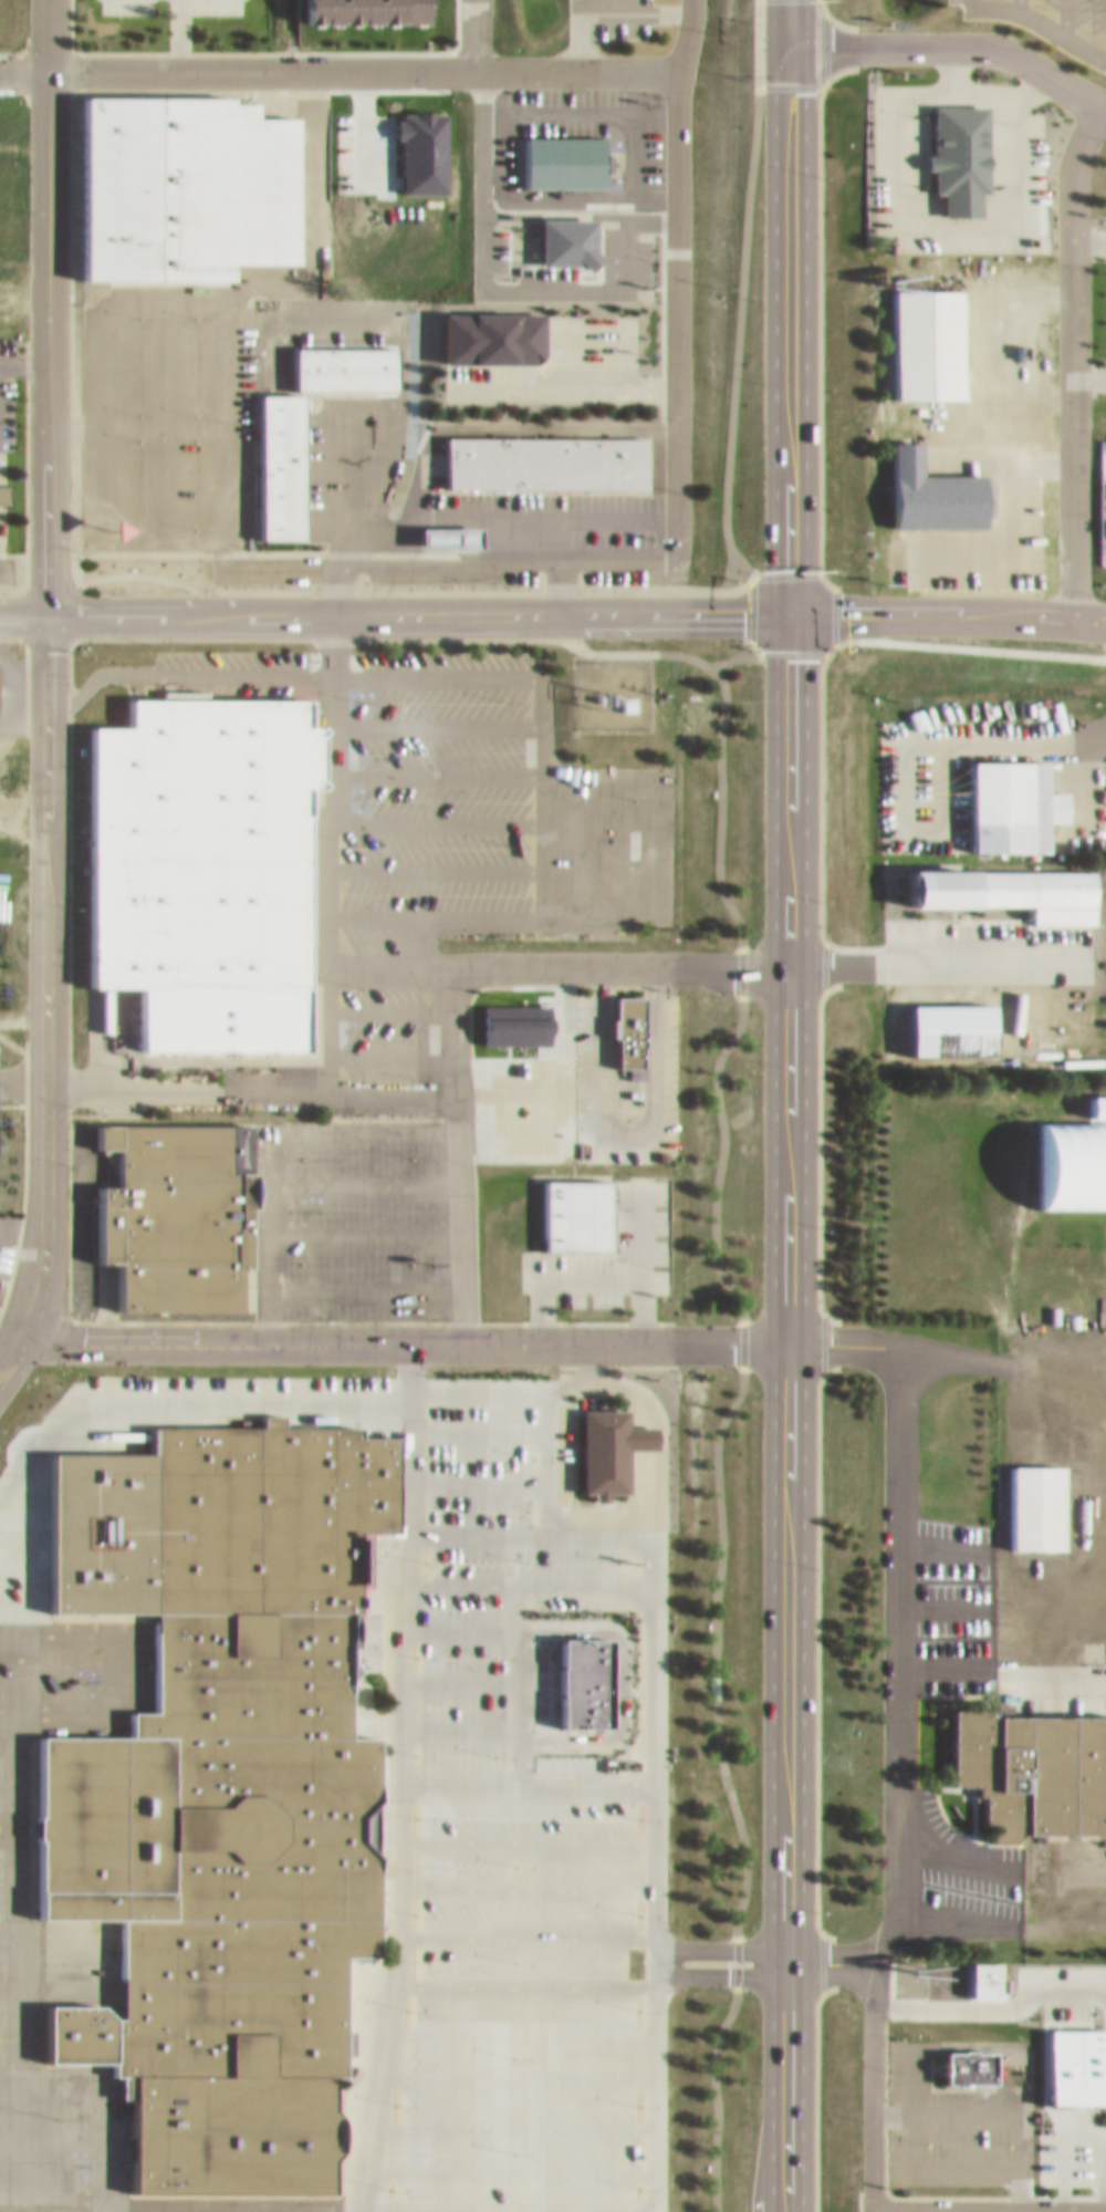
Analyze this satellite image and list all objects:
parking lot: (1082, 13)
road: (1064, 14)
road: (1062, 27)
road: (474, 30)
road: (771, 31)
road: (954, 37)
road: (362, 61)
road: (22, 63)
building: (950, 147)
building: (555, 152)
building: (184, 179)
road: (1089, 233)
road: (678, 278)
road: (789, 301)
road: (45, 302)
building: (919, 335)
road: (733, 337)
building: (479, 342)
road: (1073, 350)
road: (1089, 367)
building: (538, 454)
building: (272, 458)
building: (922, 482)
building: (7, 486)
road: (577, 525)
road: (4, 560)
road: (947, 604)
road: (22, 605)
road: (417, 605)
road: (398, 666)
power substation: (609, 682)
road: (435, 714)
road: (490, 767)
building: (480, 792)
parking lot: (453, 797)
building: (1003, 798)
road: (490, 810)
road: (331, 841)
building: (202, 860)
road: (489, 860)
building: (1035, 891)
road: (556, 903)
road: (421, 928)
road: (620, 957)
road: (935, 958)
road: (790, 967)
road: (45, 969)
building: (1083, 1011)
building: (507, 1014)
road: (305, 1019)
building: (622, 1024)
parking lot: (589, 1065)
road: (22, 1069)
road: (250, 1082)
road: (503, 1082)
road: (551, 1082)
road: (252, 1110)
road: (623, 1128)
road: (270, 1131)
road: (457, 1143)
building: (1063, 1154)
road: (364, 1174)
building: (171, 1203)
building: (568, 1204)
parking lot: (349, 1209)
road: (365, 1225)
parking lot: (611, 1243)
road: (637, 1253)
road: (555, 1268)
road: (366, 1278)
building: (938, 1284)
road: (741, 1328)
road: (404, 1330)
road: (8, 1341)
road: (1001, 1351)
road: (182, 1390)
road: (544, 1396)
road: (655, 1410)
building: (602, 1439)
road: (476, 1441)
road: (476, 1488)
building: (1027, 1497)
road: (14, 1509)
road: (532, 1539)
road: (29, 1541)
road: (14, 1555)
road: (901, 1571)
road: (532, 1589)
road: (14, 1600)
road: (69, 1623)
road: (458, 1634)
road: (13, 1647)
road: (67, 1647)
road: (108, 1660)
road: (456, 1681)
road: (511, 1685)
road: (60, 1699)
road: (6, 1700)
road: (456, 1732)
road: (6, 1751)
building: (618, 1761)
building: (1029, 1761)
road: (789, 1772)
building: (219, 1779)
road: (526, 1783)
road: (6, 1797)
road: (10, 1819)
road: (526, 1829)
parking lot: (411, 1836)
road: (4, 1842)
road: (654, 1870)
road: (526, 1873)
road: (1002, 1877)
road: (4, 1890)
road: (399, 1919)
road: (526, 1922)
road: (881, 1932)
road: (4, 1941)
road: (14, 1941)
road: (692, 1941)
road: (832, 1941)
road: (501, 1964)
road: (696, 1965)
road: (832, 1966)
building: (978, 1974)
road: (9, 1992)
road: (523, 2001)
road: (19, 2012)
road: (10, 2036)
road: (522, 2049)
building: (1067, 2056)
building: (961, 2058)
road: (10, 2084)
road: (62, 2084)
road: (504, 2092)
road: (52, 2128)
road: (103, 2132)
road: (504, 2140)
road: (169, 2199)
road: (875, 2202)
road: (102, 2205)
road: (155, 2205)
road: (307, 2205)
road: (356, 2205)
road: (1003, 2210)

